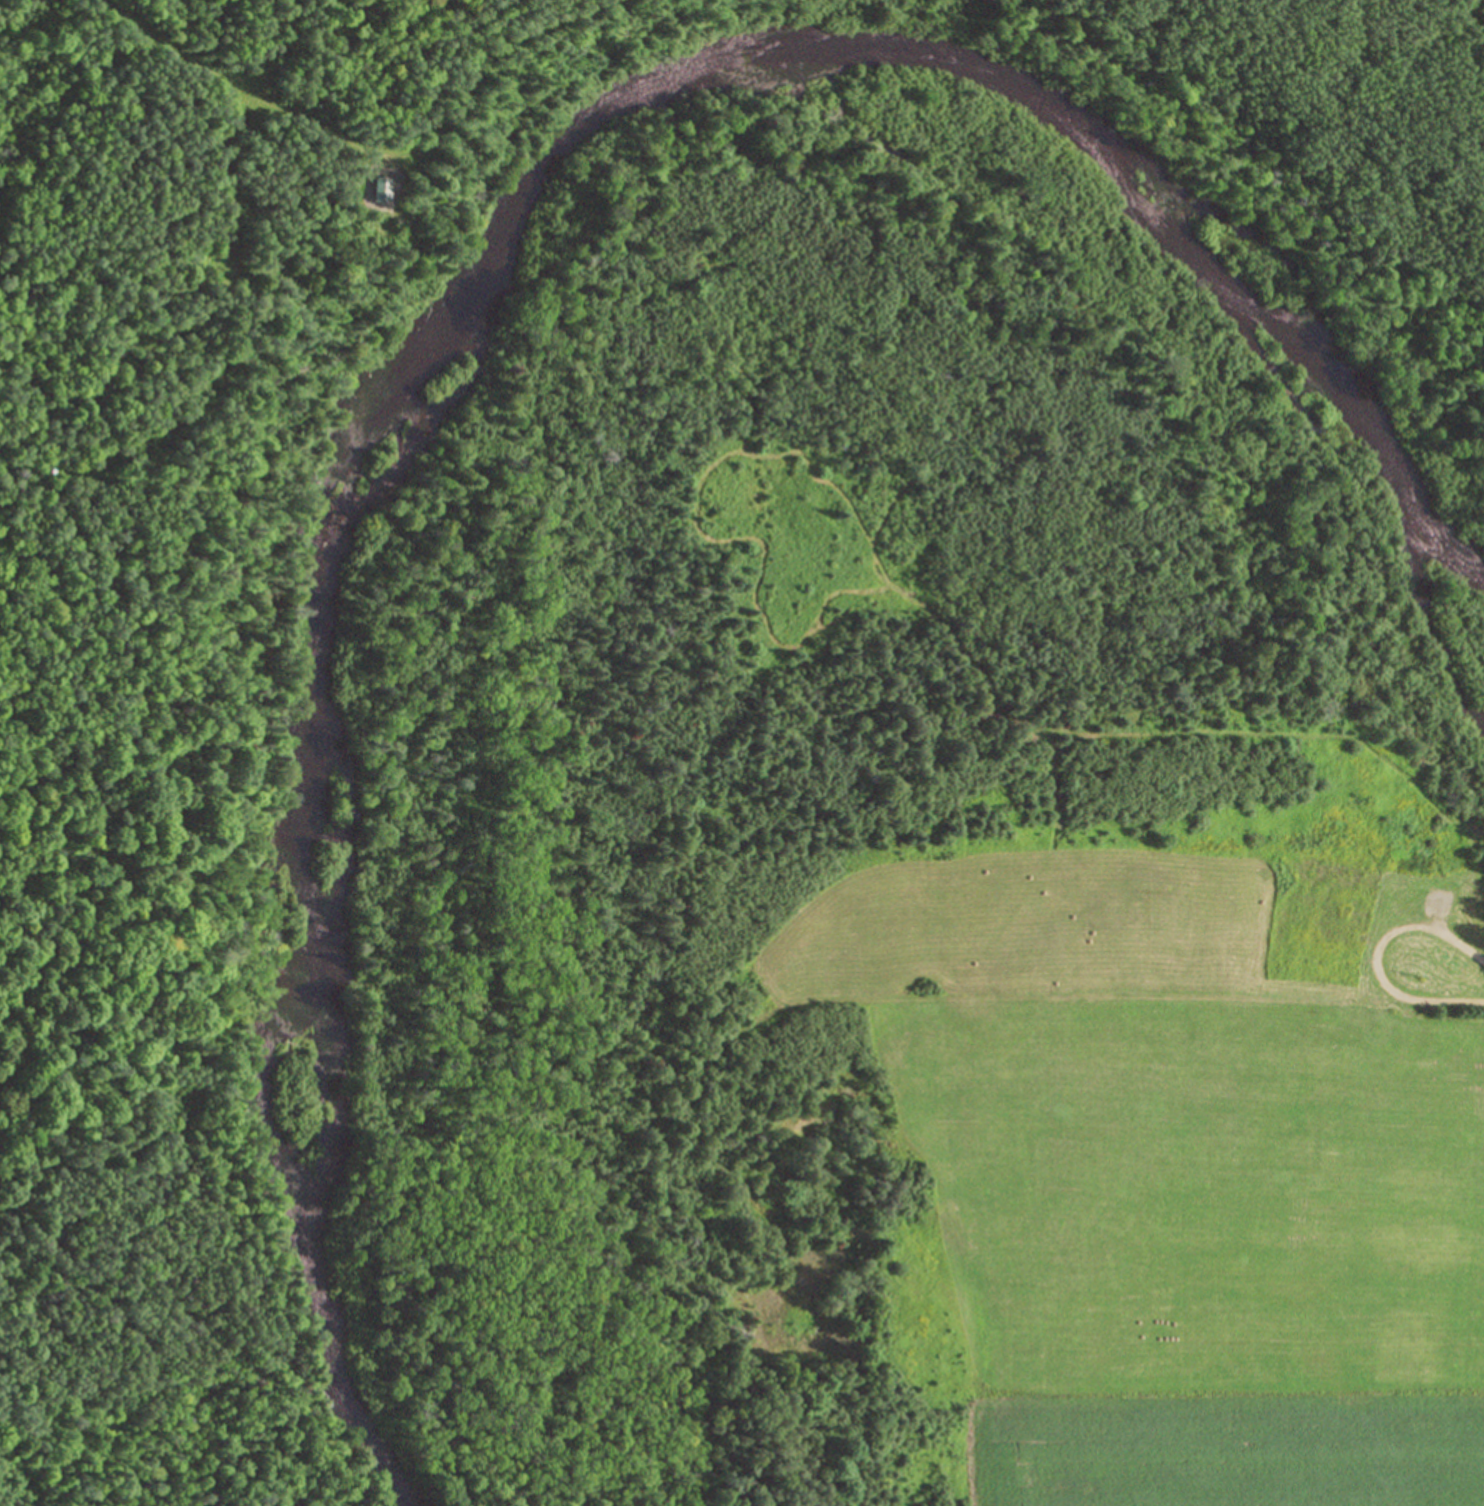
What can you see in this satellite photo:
road: (245, 85)
building: (371, 191)
river: (485, 273)
building: (1439, 903)
building: (1337, 920)
building: (1449, 966)

